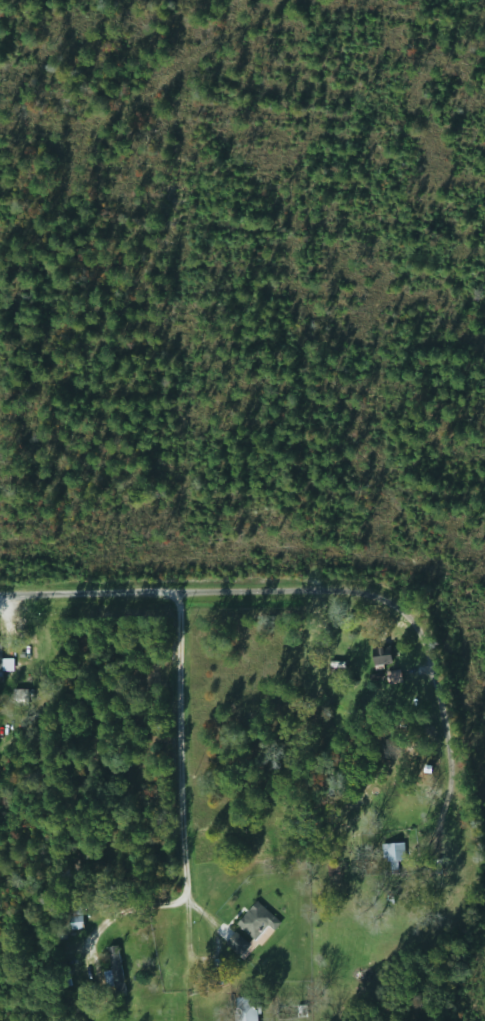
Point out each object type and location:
road: (323, 591)
building: (41, 648)
building: (382, 656)
building: (5, 663)
building: (394, 676)
building: (20, 698)
road: (192, 745)
building: (393, 853)
building: (335, 868)
road: (137, 917)
building: (75, 918)
building: (258, 922)
building: (237, 943)
building: (115, 970)
building: (219, 975)
building: (246, 1008)

